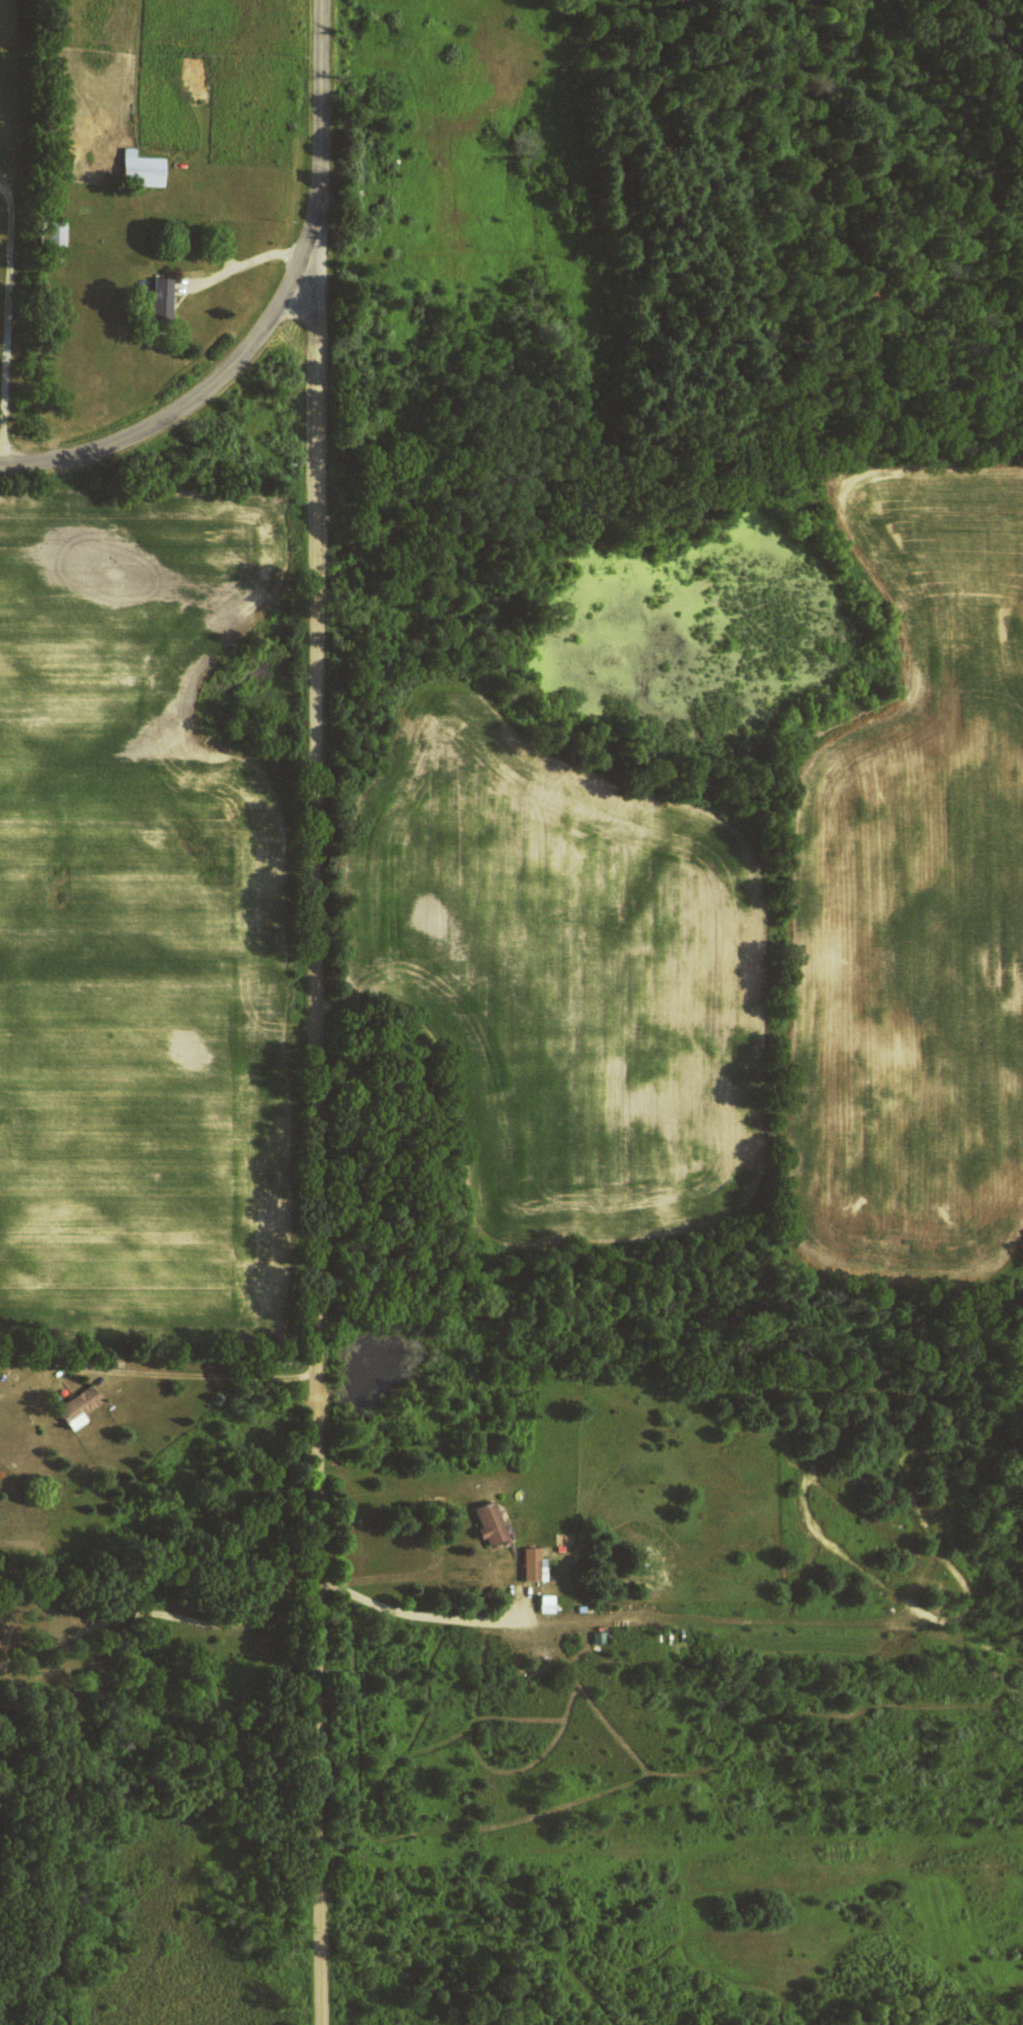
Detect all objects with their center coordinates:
building: (137, 169)
building: (53, 234)
building: (157, 298)
road: (194, 408)
road: (321, 1012)
building: (485, 1523)
building: (531, 1565)
building: (544, 1603)

